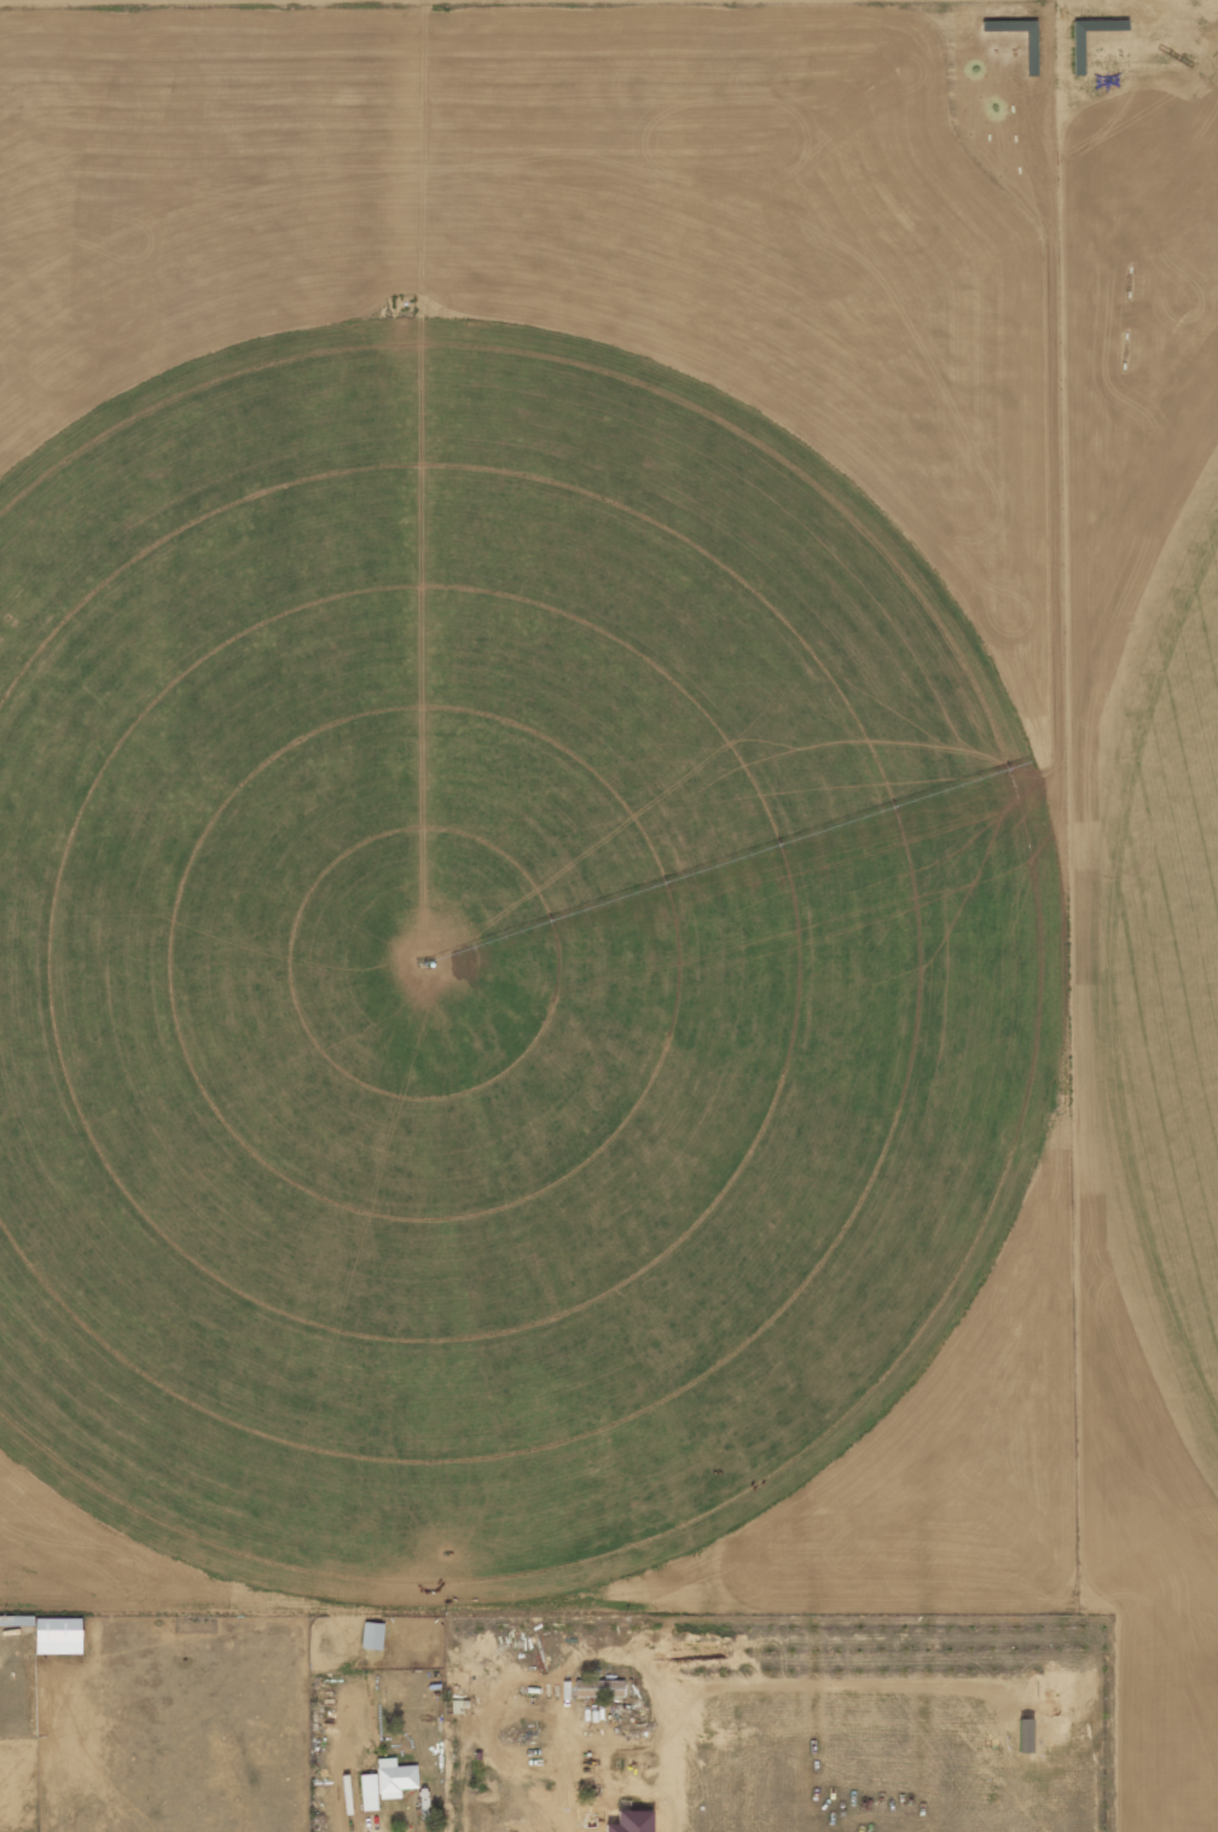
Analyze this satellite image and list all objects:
crop: (483, 962)
crop: (1171, 966)
building: (373, 1635)
building: (60, 1641)
building: (602, 1688)
building: (396, 1778)
building: (370, 1792)
building: (634, 1821)

